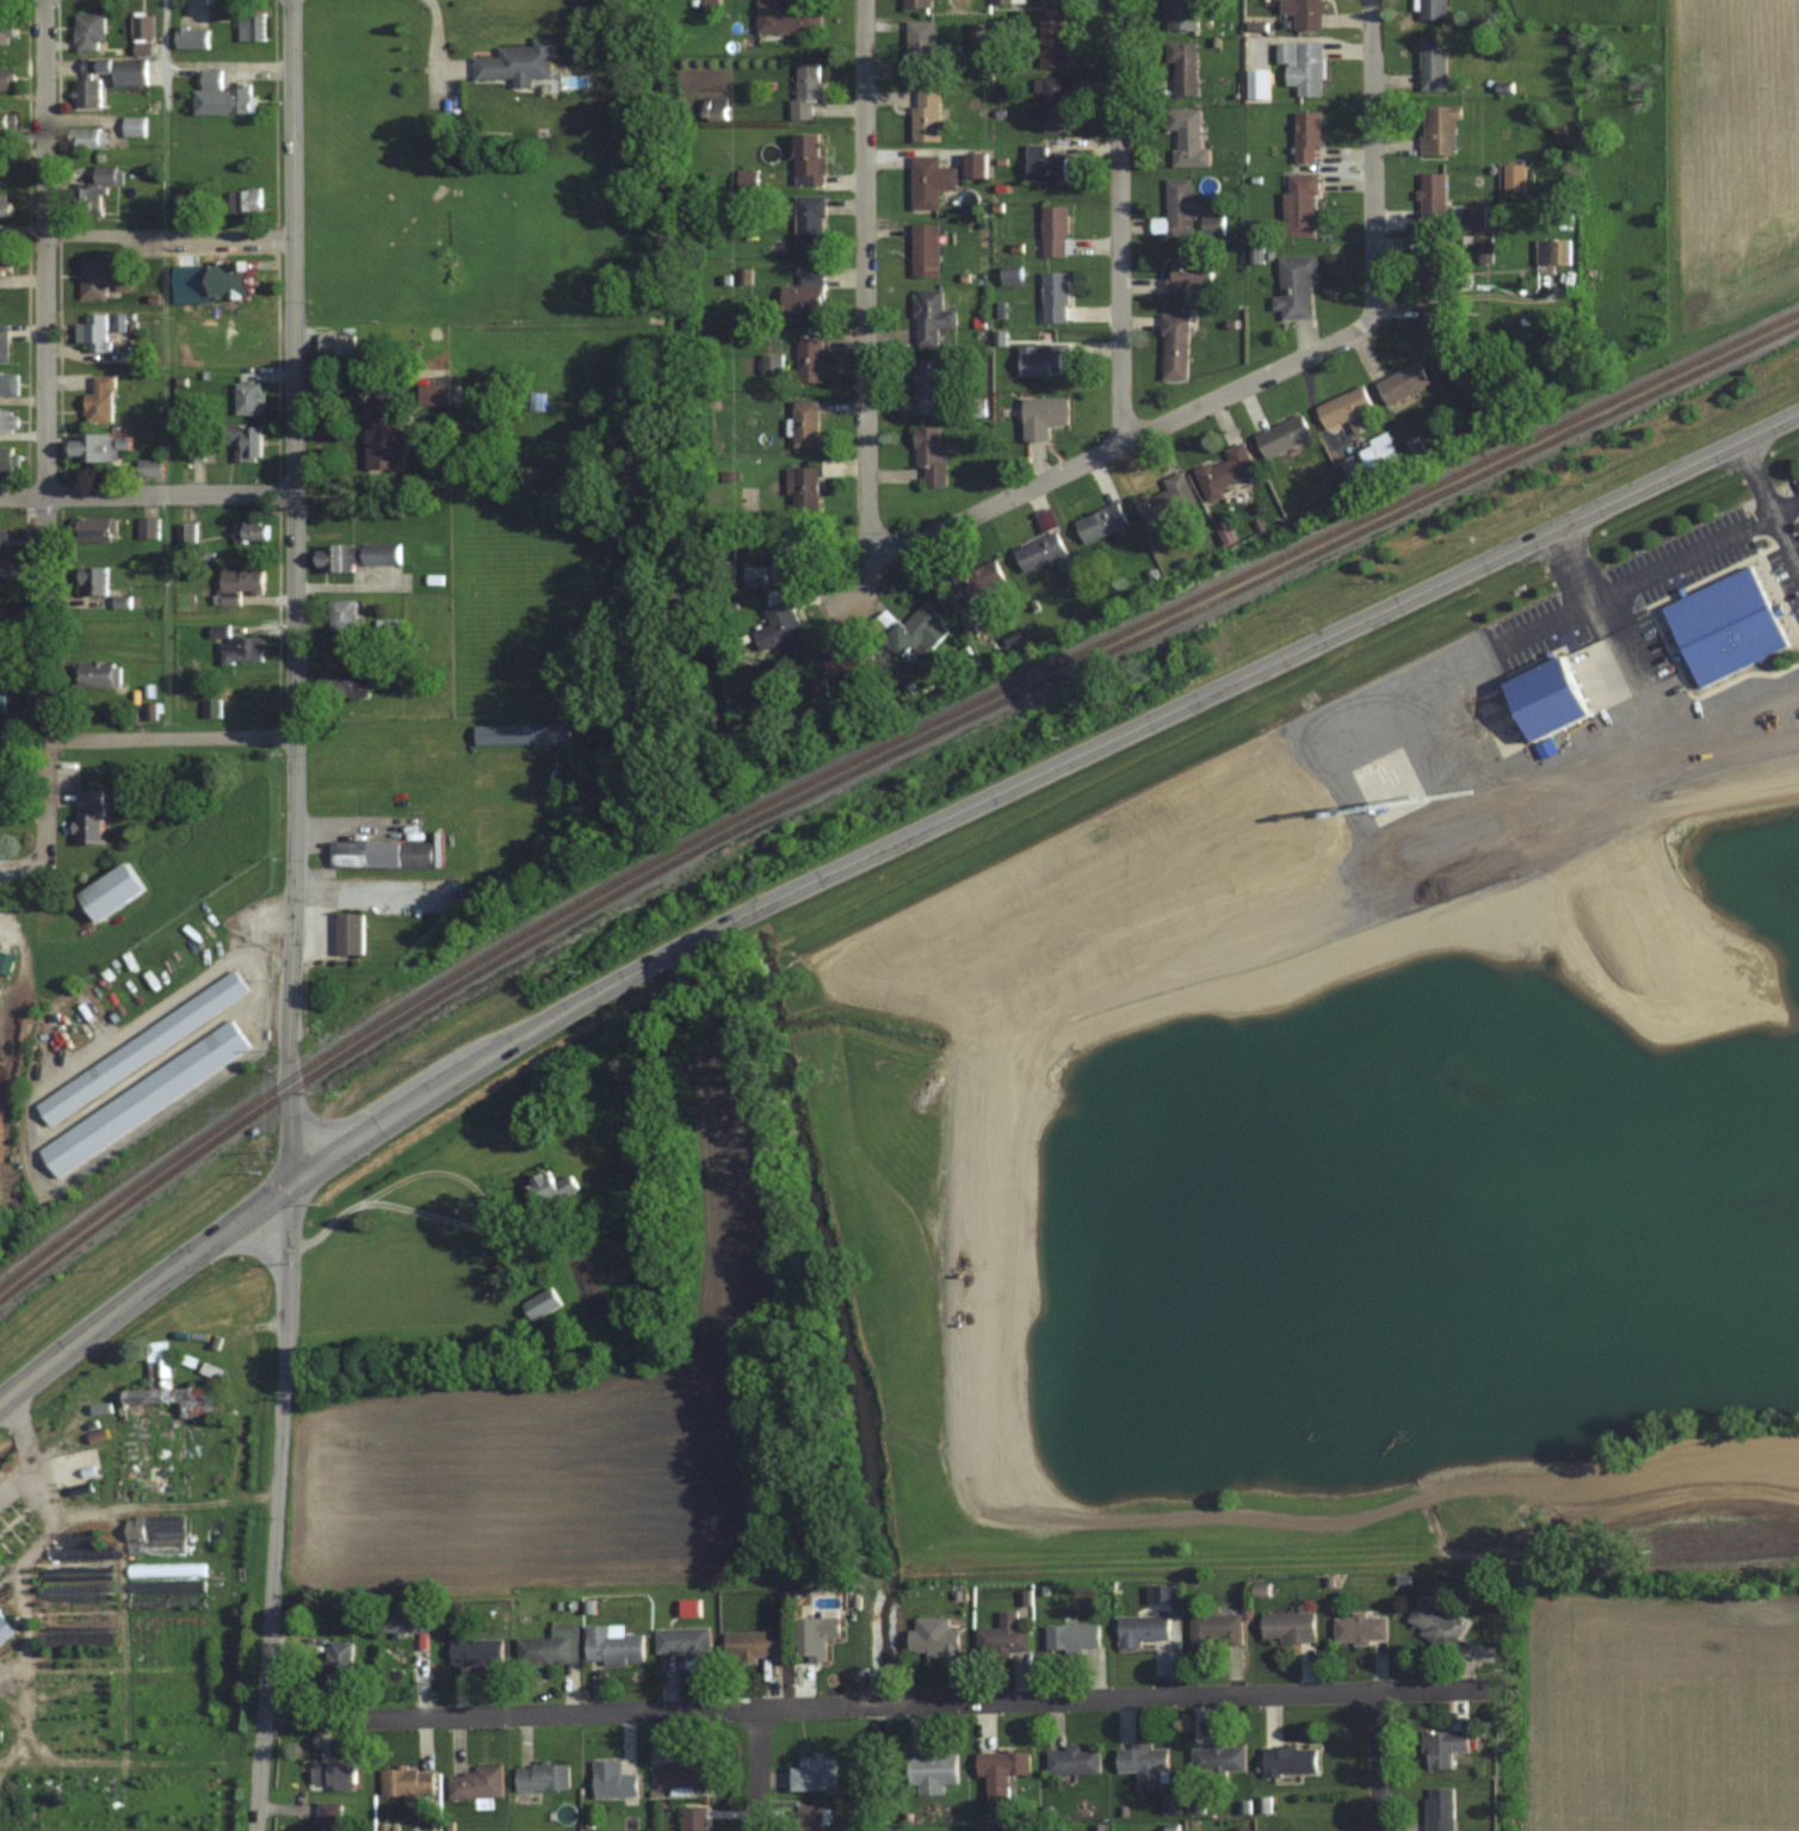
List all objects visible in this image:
building: (1053, 1)
building: (916, 4)
building: (1433, 8)
building: (1303, 13)
building: (1180, 14)
building: (785, 18)
building: (251, 25)
building: (142, 26)
building: (5, 31)
building: (87, 31)
building: (191, 37)
building: (1052, 42)
road: (431, 44)
building: (920, 48)
building: (1433, 61)
building: (518, 62)
building: (1182, 67)
building: (1302, 67)
building: (117, 69)
building: (5, 78)
building: (803, 89)
building: (86, 92)
building: (220, 97)
building: (1052, 103)
building: (713, 109)
building: (925, 113)
building: (6, 120)
building: (131, 125)
building: (1439, 128)
building: (1306, 136)
building: (1186, 137)
building: (85, 138)
building: (809, 157)
building: (975, 165)
building: (1043, 165)
building: (1514, 175)
building: (746, 179)
building: (928, 180)
building: (95, 188)
building: (1432, 196)
building: (243, 200)
building: (5, 203)
building: (1300, 203)
building: (180, 204)
building: (1175, 208)
road: (1119, 222)
building: (808, 225)
building: (1053, 230)
road: (168, 233)
parking lot: (197, 243)
building: (1483, 246)
building: (923, 249)
building: (1551, 250)
building: (5, 259)
building: (1439, 265)
building: (1188, 272)
building: (100, 276)
building: (1009, 276)
building: (231, 277)
road: (865, 280)
building: (1294, 285)
building: (802, 293)
building: (1053, 296)
building: (929, 315)
building: (1434, 328)
building: (93, 330)
parking lot: (224, 339)
building: (2, 341)
building: (338, 346)
building: (1173, 346)
building: (809, 359)
building: (1041, 359)
building: (771, 363)
road: (167, 367)
road: (1265, 373)
building: (8, 383)
building: (1401, 383)
building: (927, 385)
building: (247, 398)
building: (100, 401)
building: (536, 401)
building: (1344, 409)
building: (1040, 416)
building: (8, 421)
building: (804, 423)
road: (45, 431)
building: (382, 437)
building: (1281, 437)
building: (242, 440)
building: (196, 445)
building: (99, 446)
building: (1378, 453)
building: (928, 454)
building: (6, 458)
building: (149, 468)
building: (830, 468)
building: (1350, 468)
building: (1225, 470)
building: (800, 488)
road: (146, 493)
building: (1163, 501)
road: (1602, 507)
road: (1786, 509)
building: (1098, 522)
building: (147, 527)
building: (602, 528)
building: (91, 530)
building: (249, 531)
building: (185, 532)
road: (1783, 545)
building: (784, 550)
building: (1037, 550)
building: (354, 556)
road: (1684, 558)
road: (857, 575)
building: (92, 580)
building: (237, 583)
building: (979, 588)
building: (1, 614)
building: (341, 616)
road: (1545, 623)
building: (1725, 625)
building: (780, 626)
building: (915, 629)
building: (237, 645)
building: (847, 666)
building: (97, 673)
building: (353, 678)
building: (814, 686)
building: (1545, 698)
building: (1, 701)
building: (521, 734)
road: (169, 737)
railway: (872, 749)
railway: (872, 761)
road: (1064, 762)
building: (2, 802)
building: (88, 816)
building: (381, 853)
building: (109, 891)
road: (291, 916)
building: (347, 933)
building: (141, 1047)
building: (143, 1099)
road: (379, 1099)
road: (350, 1144)
road: (457, 1177)
building: (552, 1189)
building: (534, 1231)
road: (253, 1254)
building: (540, 1304)
building: (159, 1412)
building: (154, 1533)
building: (79, 1553)
building: (406, 1619)
building: (1, 1622)
building: (1434, 1622)
building: (1286, 1626)
building: (1358, 1627)
building: (1140, 1629)
building: (1214, 1629)
building: (1002, 1635)
building: (932, 1637)
building: (1070, 1637)
building: (815, 1638)
building: (682, 1641)
building: (611, 1645)
building: (752, 1645)
building: (549, 1647)
building: (475, 1651)
building: (338, 1665)
road: (876, 1705)
building: (1441, 1746)
building: (1217, 1757)
building: (1287, 1759)
building: (1071, 1761)
road: (1379, 1761)
building: (1143, 1764)
building: (1000, 1765)
road: (761, 1769)
building: (932, 1770)
building: (682, 1773)
building: (814, 1773)
building: (330, 1775)
building: (540, 1776)
building: (612, 1780)
building: (476, 1781)
building: (406, 1782)
building: (1438, 1808)
building: (324, 1815)
building: (693, 1818)
building: (809, 1818)

